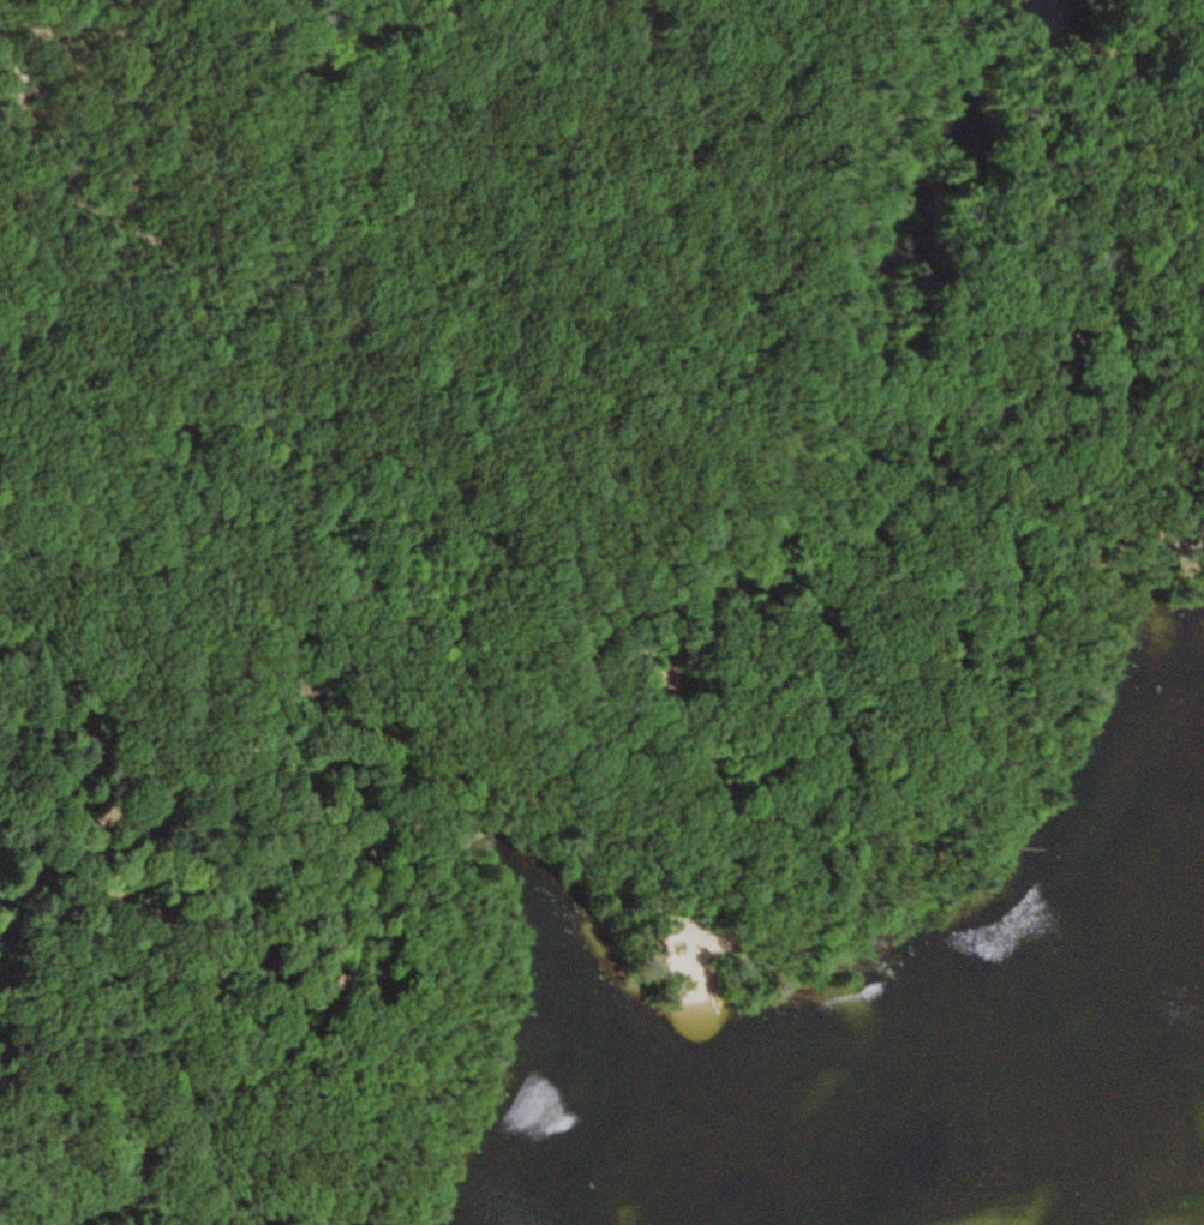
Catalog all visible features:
road: (354, 264)
road: (184, 398)
road: (532, 527)
park: (601, 612)
road: (640, 869)

